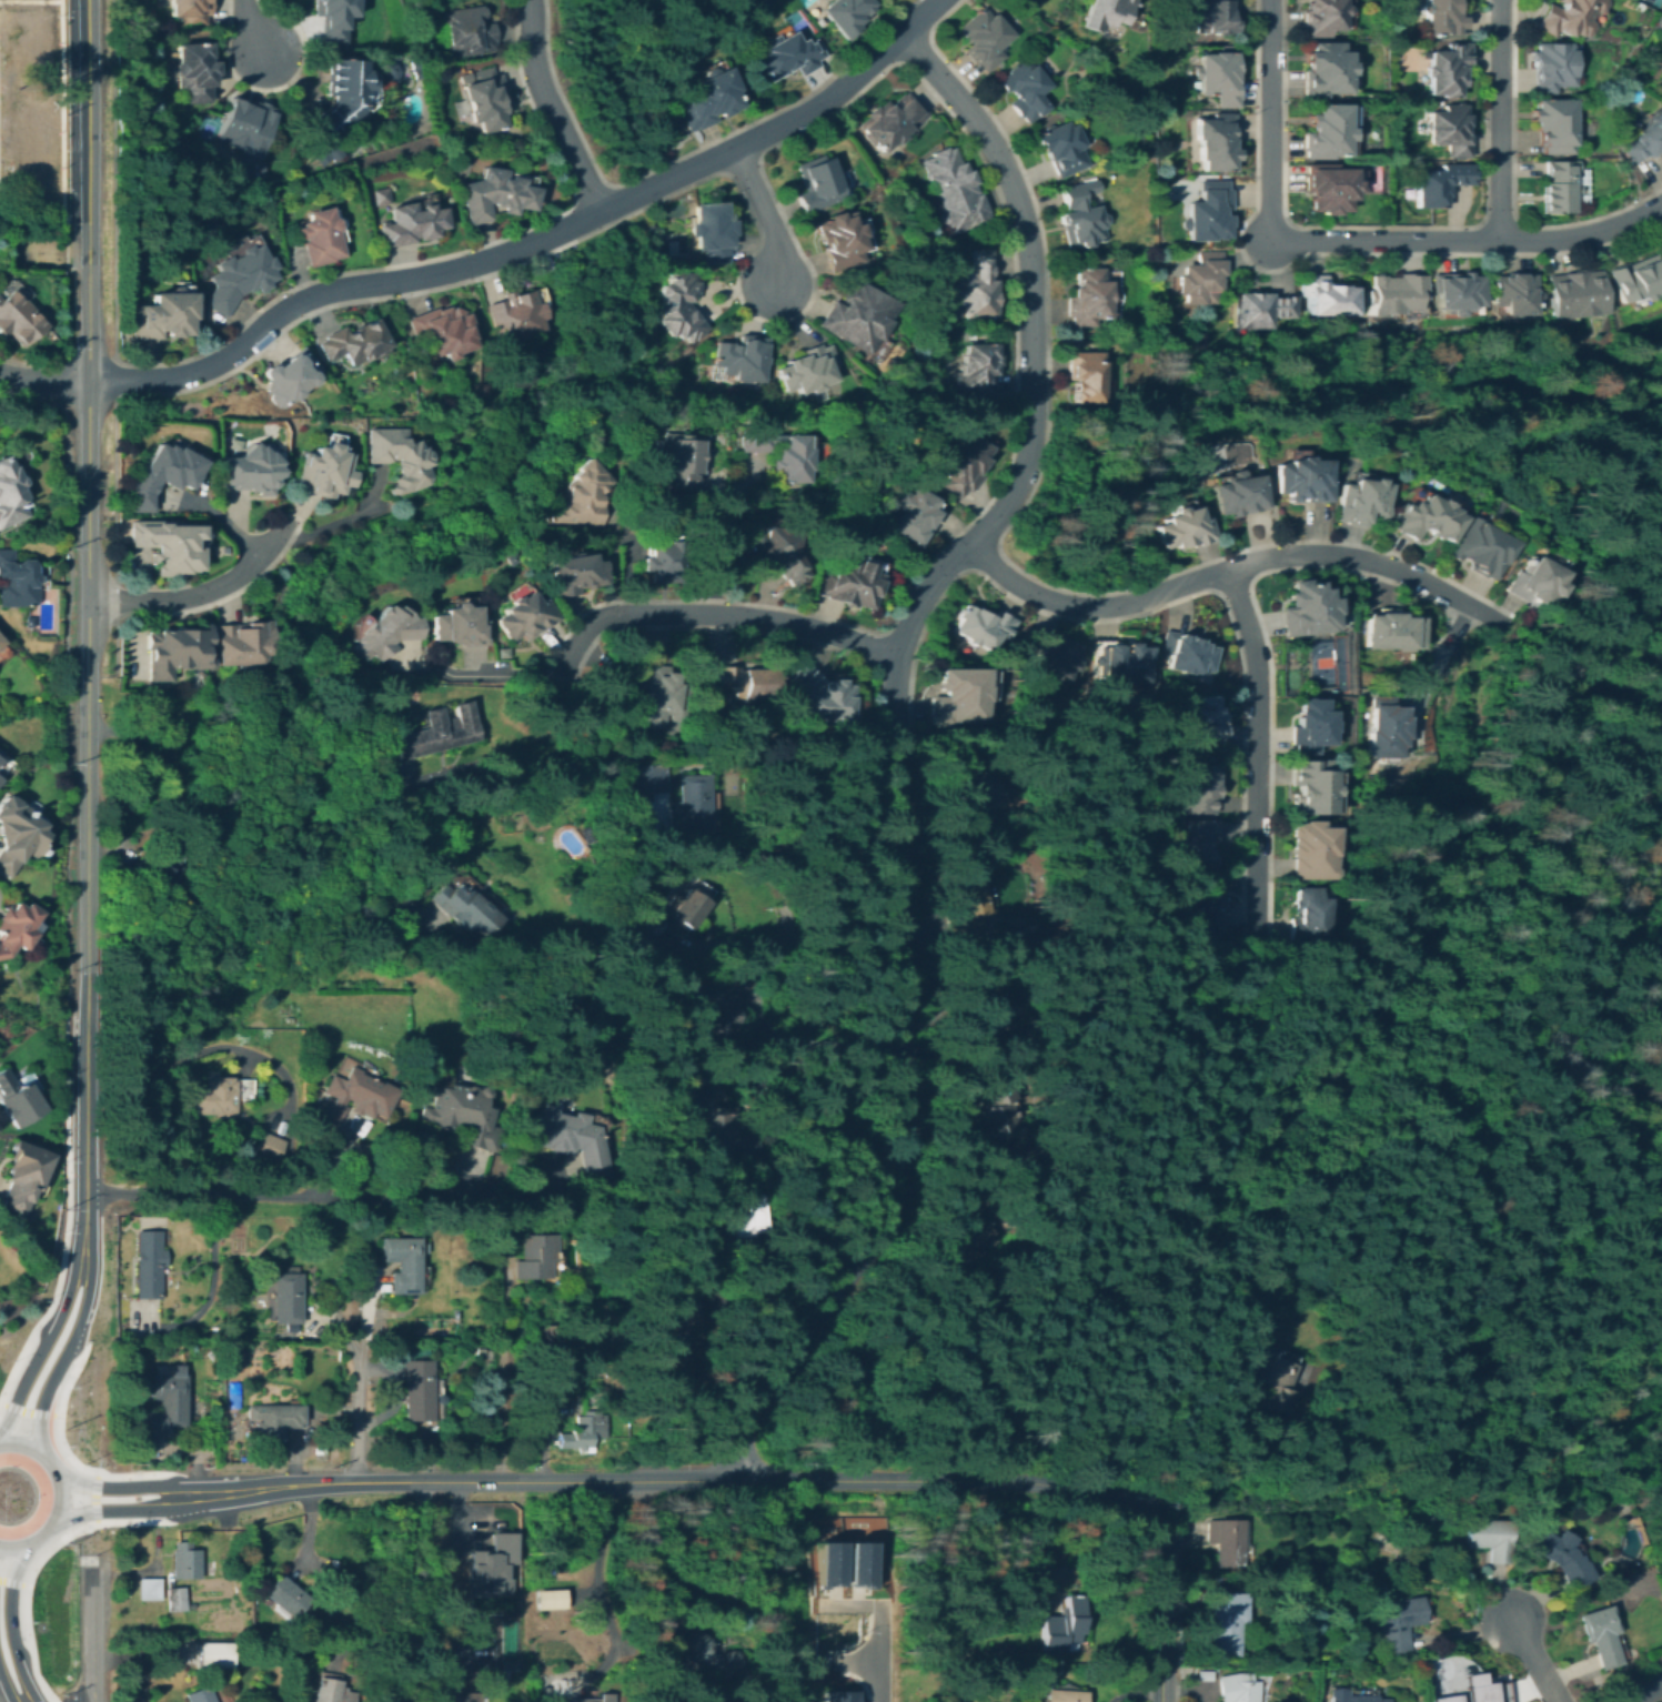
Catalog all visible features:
road: (53, 0)
park: (1653, 2)
building: (191, 10)
building: (1104, 12)
building: (844, 14)
building: (1211, 17)
building: (1321, 17)
building: (1569, 17)
building: (332, 18)
building: (1442, 18)
road: (255, 28)
building: (466, 31)
building: (984, 37)
building: (787, 56)
building: (1551, 66)
building: (1323, 69)
building: (1446, 69)
building: (195, 70)
building: (1217, 77)
road: (275, 85)
building: (1024, 89)
building: (341, 95)
building: (485, 99)
building: (707, 99)
road: (553, 109)
building: (893, 120)
road: (1501, 120)
road: (1269, 123)
building: (1553, 123)
building: (248, 124)
park: (209, 127)
building: (1449, 129)
building: (1326, 131)
building: (1644, 139)
building: (1215, 141)
building: (1060, 147)
road: (682, 152)
park: (1371, 177)
building: (817, 182)
building: (1439, 182)
building: (1558, 185)
building: (1329, 188)
road: (88, 191)
building: (955, 191)
building: (494, 194)
building: (381, 195)
building: (1408, 195)
road: (61, 210)
building: (1207, 211)
road: (767, 215)
building: (1080, 215)
road: (783, 220)
building: (411, 222)
building: (653, 225)
building: (712, 230)
building: (320, 236)
building: (839, 239)
road: (1471, 240)
building: (1661, 246)
road: (1317, 252)
road: (493, 259)
building: (239, 276)
building: (1201, 278)
building: (1634, 280)
building: (976, 286)
building: (1454, 291)
building: (1393, 292)
building: (1512, 293)
building: (1573, 293)
building: (1323, 295)
road: (271, 296)
building: (1086, 296)
building: (678, 305)
building: (1260, 309)
building: (165, 314)
building: (517, 315)
building: (857, 315)
building: (18, 319)
building: (444, 329)
building: (353, 341)
building: (742, 357)
building: (807, 369)
building: (978, 370)
building: (1084, 374)
road: (1031, 379)
building: (286, 380)
road: (36, 393)
road: (92, 404)
building: (779, 453)
building: (399, 459)
building: (681, 462)
building: (961, 465)
building: (253, 470)
building: (324, 471)
building: (167, 473)
building: (1303, 480)
building: (1240, 493)
building: (8, 495)
building: (582, 496)
building: (1361, 501)
building: (911, 516)
building: (1424, 517)
road: (1007, 525)
road: (322, 526)
building: (1186, 528)
road: (722, 536)
building: (171, 545)
building: (1480, 547)
building: (776, 551)
building: (663, 560)
road: (1230, 567)
building: (575, 573)
building: (18, 582)
building: (849, 582)
building: (1542, 583)
road: (203, 593)
building: (1306, 608)
building: (523, 615)
road: (715, 615)
building: (457, 625)
road: (746, 627)
building: (980, 627)
building: (1390, 631)
building: (387, 632)
building: (0, 639)
building: (0, 642)
building: (244, 643)
road: (877, 647)
building: (177, 651)
building: (1183, 654)
building: (1055, 657)
building: (1117, 662)
park: (1332, 664)
road: (1431, 671)
road: (476, 676)
building: (738, 683)
building: (663, 694)
building: (824, 694)
road: (88, 696)
building: (950, 696)
building: (1198, 723)
building: (1311, 725)
building: (1384, 726)
building: (433, 733)
road: (1258, 748)
building: (1, 752)
building: (628, 756)
building: (3, 763)
building: (1, 776)
building: (648, 779)
building: (1195, 785)
building: (1307, 785)
building: (974, 797)
road: (318, 803)
building: (691, 805)
building: (16, 834)
building: (1188, 843)
building: (1313, 848)
road: (64, 859)
road: (1241, 862)
building: (162, 869)
building: (695, 887)
building: (463, 904)
building: (966, 907)
building: (1202, 915)
building: (1308, 916)
building: (673, 920)
building: (14, 929)
road: (803, 943)
building: (717, 1007)
building: (981, 1009)
building: (482, 1031)
road: (208, 1046)
building: (214, 1097)
building: (355, 1097)
building: (18, 1099)
road: (87, 1100)
building: (995, 1111)
building: (462, 1115)
building: (707, 1121)
road: (896, 1121)
building: (566, 1135)
building: (269, 1147)
building: (365, 1157)
building: (23, 1178)
road: (1513, 1194)
road: (314, 1196)
road: (83, 1205)
building: (742, 1219)
building: (968, 1232)
building: (535, 1257)
building: (149, 1263)
building: (402, 1263)
road: (71, 1277)
road: (87, 1278)
road: (208, 1281)
building: (284, 1298)
building: (677, 1330)
building: (213, 1331)
building: (228, 1331)
building: (547, 1345)
building: (230, 1347)
road: (81, 1352)
building: (331, 1352)
building: (481, 1352)
building: (411, 1353)
building: (588, 1359)
road: (18, 1360)
building: (1262, 1374)
road: (498, 1376)
road: (23, 1380)
road: (355, 1384)
building: (686, 1384)
building: (419, 1390)
road: (44, 1391)
building: (165, 1403)
road: (28, 1411)
road: (375, 1417)
building: (274, 1422)
building: (584, 1431)
road: (72, 1460)
road: (666, 1480)
road: (315, 1483)
road: (1051, 1483)
road: (113, 1487)
road: (236, 1492)
road: (60, 1493)
road: (1247, 1493)
road: (184, 1495)
road: (93, 1498)
road: (125, 1510)
road: (66, 1515)
road: (66, 1535)
building: (1488, 1538)
building: (1220, 1542)
building: (1387, 1549)
building: (825, 1554)
building: (856, 1554)
building: (1559, 1555)
building: (187, 1561)
building: (490, 1565)
road: (142, 1569)
building: (1261, 1580)
building: (244, 1581)
road: (11, 1582)
road: (410, 1582)
road: (606, 1588)
building: (150, 1589)
road: (9, 1598)
building: (286, 1598)
building: (551, 1598)
building: (180, 1599)
road: (1152, 1600)
road: (840, 1603)
building: (345, 1604)
building: (1394, 1621)
building: (1218, 1622)
building: (1054, 1625)
road: (91, 1629)
building: (1601, 1635)
building: (214, 1652)
building: (702, 1652)
road: (873, 1652)
building: (475, 1653)
road: (1534, 1658)
road: (848, 1660)
road: (32, 1669)
building: (1195, 1673)
road: (24, 1680)
building: (767, 1681)
building: (1230, 1688)
building: (330, 1689)
building: (1477, 1689)
road: (6, 1691)
building: (455, 1692)
road: (1126, 1692)
road: (1648, 1693)
building: (832, 1694)
building: (200, 1695)
building: (1056, 1695)
building: (1350, 1695)
road: (84, 1698)
road: (91, 1698)
building: (594, 1698)
building: (1444, 1698)

